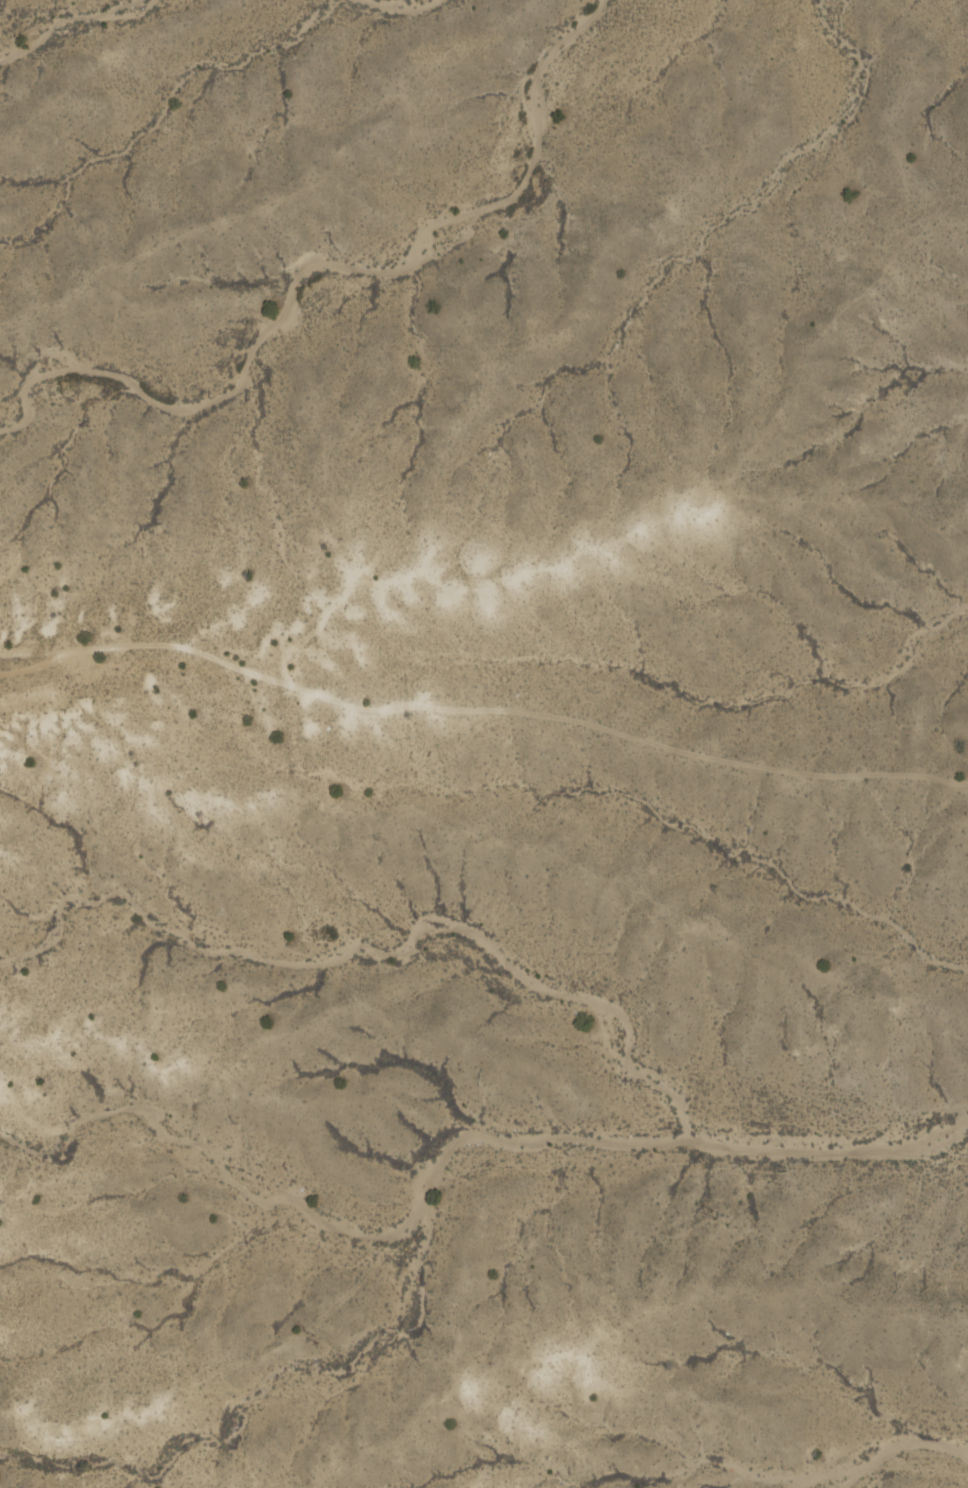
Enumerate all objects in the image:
power tower: (717, 1213)
power tower: (316, 1339)

